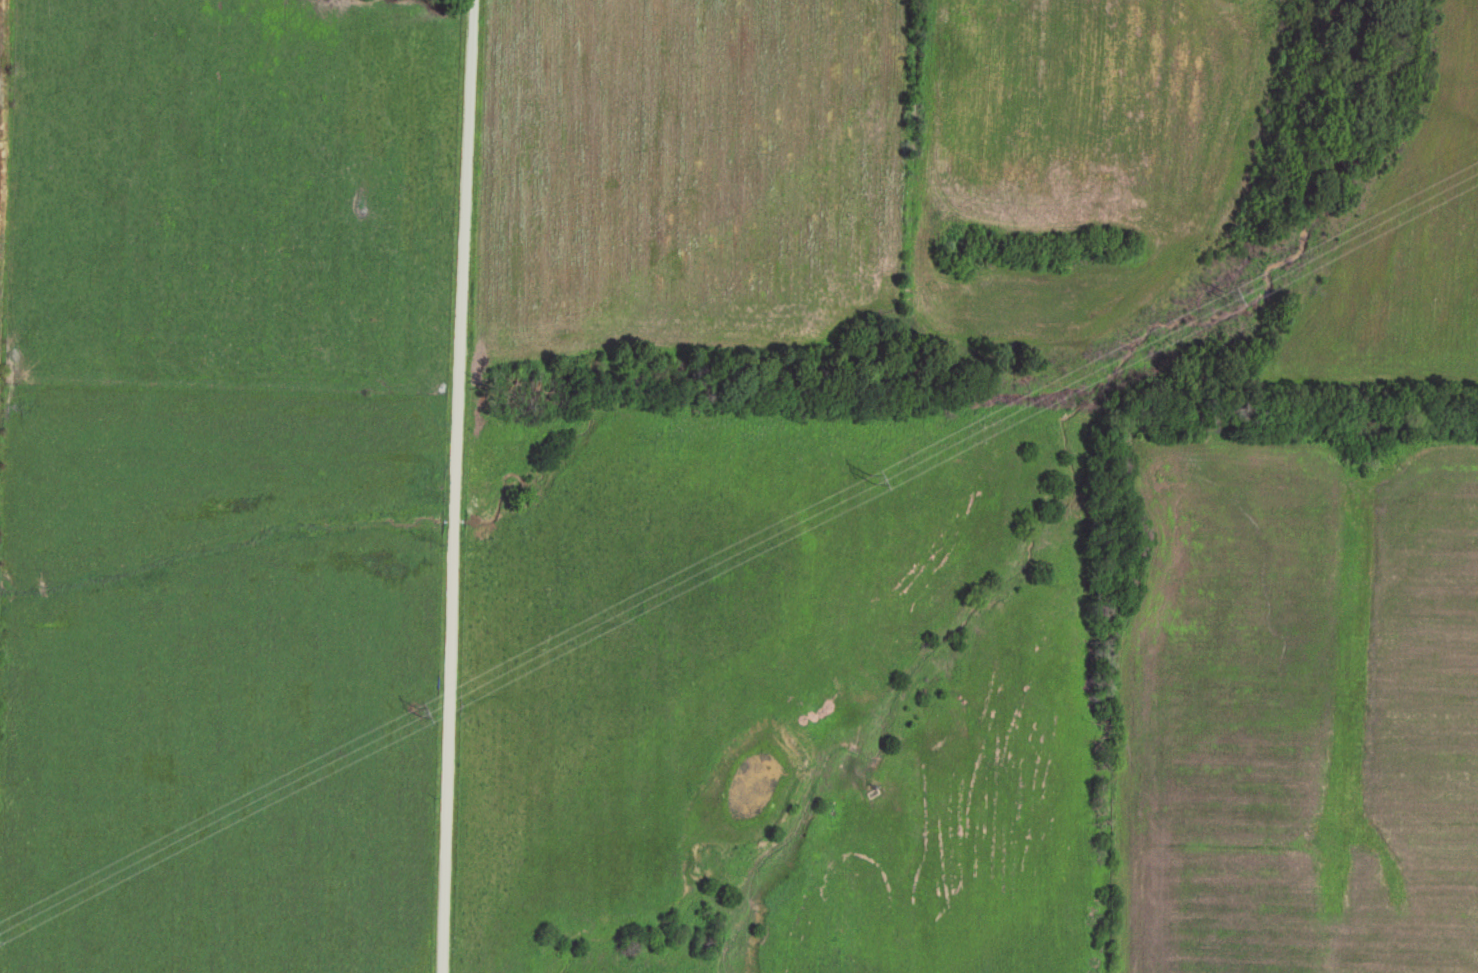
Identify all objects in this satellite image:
power tower: (1230, 306)
power tower: (874, 485)
road: (436, 486)
power tower: (421, 720)

